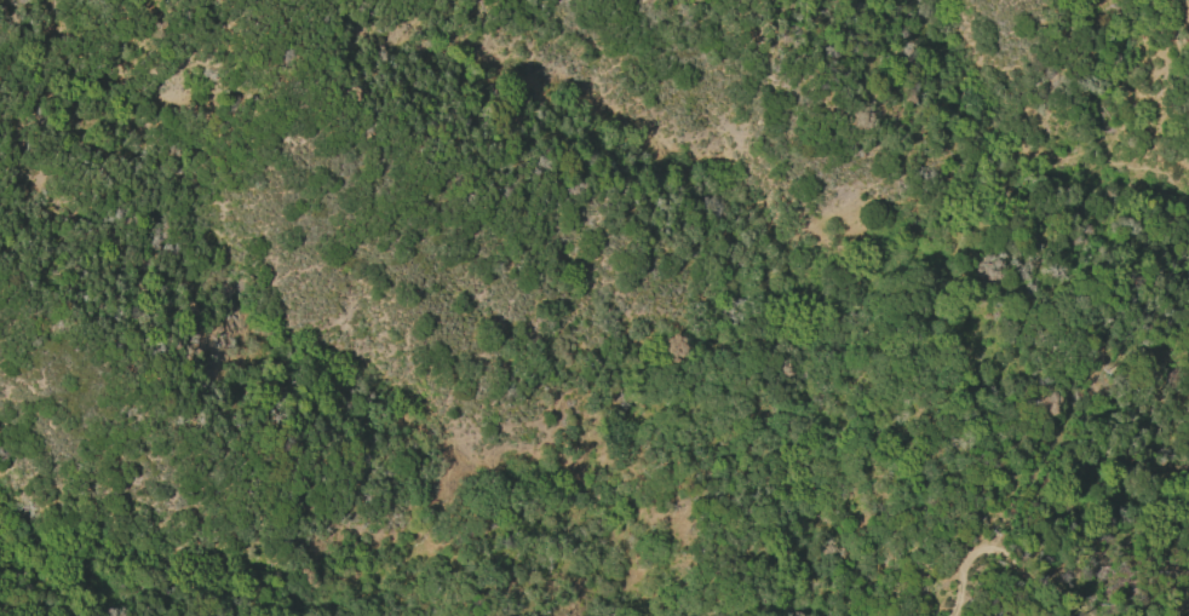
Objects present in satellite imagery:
road: (924, 235)
road: (1010, 552)

